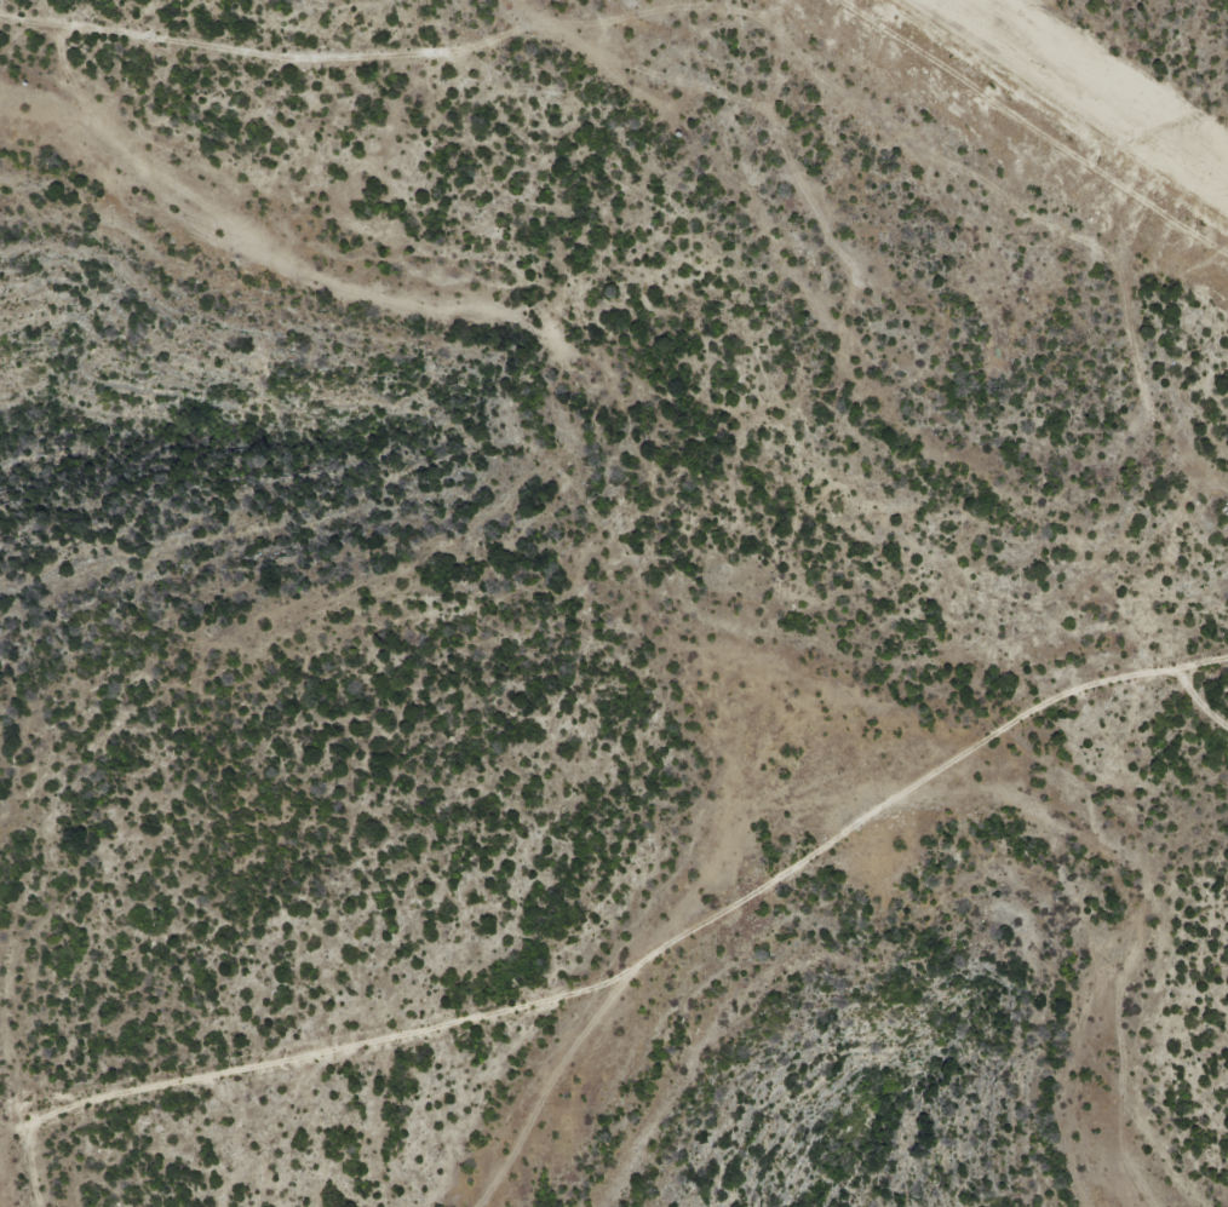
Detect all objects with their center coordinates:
road: (725, 18)

